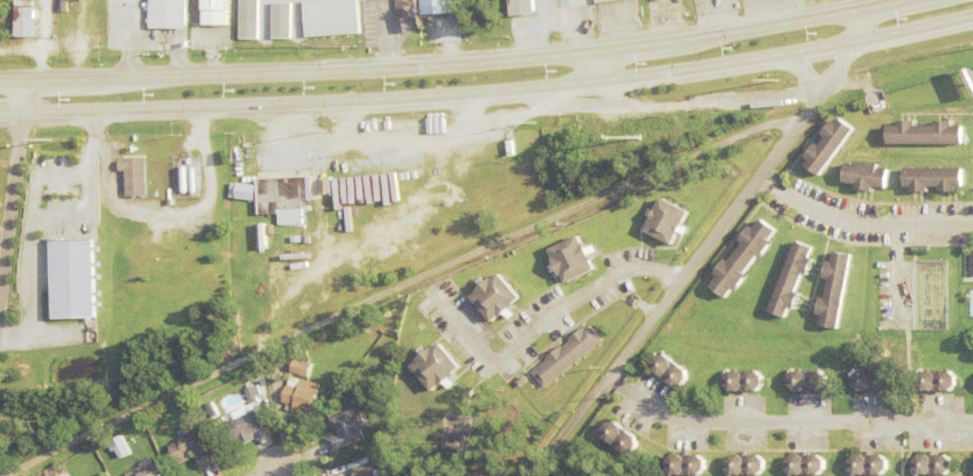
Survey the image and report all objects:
building: (612, 2)
building: (576, 5)
building: (435, 6)
building: (550, 6)
building: (404, 7)
building: (523, 9)
building: (215, 11)
building: (165, 13)
building: (329, 17)
building: (247, 19)
building: (280, 20)
building: (22, 22)
road: (449, 64)
road: (807, 71)
road: (488, 90)
road: (21, 97)
road: (575, 103)
road: (689, 105)
building: (881, 108)
building: (925, 134)
building: (828, 146)
building: (475, 150)
building: (405, 153)
building: (456, 162)
building: (189, 164)
building: (78, 172)
building: (133, 174)
building: (865, 176)
building: (933, 180)
building: (241, 189)
building: (279, 193)
road: (813, 208)
building: (667, 220)
road: (10, 223)
building: (313, 224)
road: (921, 231)
building: (102, 233)
building: (260, 235)
road: (711, 245)
building: (572, 256)
building: (743, 256)
building: (971, 264)
building: (792, 278)
building: (69, 279)
road: (398, 289)
building: (835, 289)
building: (497, 294)
park: (932, 297)
road: (549, 322)
building: (315, 352)
building: (568, 354)
building: (438, 363)
building: (670, 367)
building: (298, 368)
building: (745, 378)
building: (809, 378)
building: (873, 378)
building: (938, 378)
building: (367, 381)
building: (254, 392)
building: (304, 397)
road: (785, 425)
building: (240, 428)
building: (347, 430)
building: (621, 435)
building: (455, 442)
building: (120, 445)
building: (193, 448)
building: (687, 462)
building: (746, 462)
building: (807, 462)
building: (869, 462)
building: (933, 462)
building: (368, 469)
building: (149, 471)

